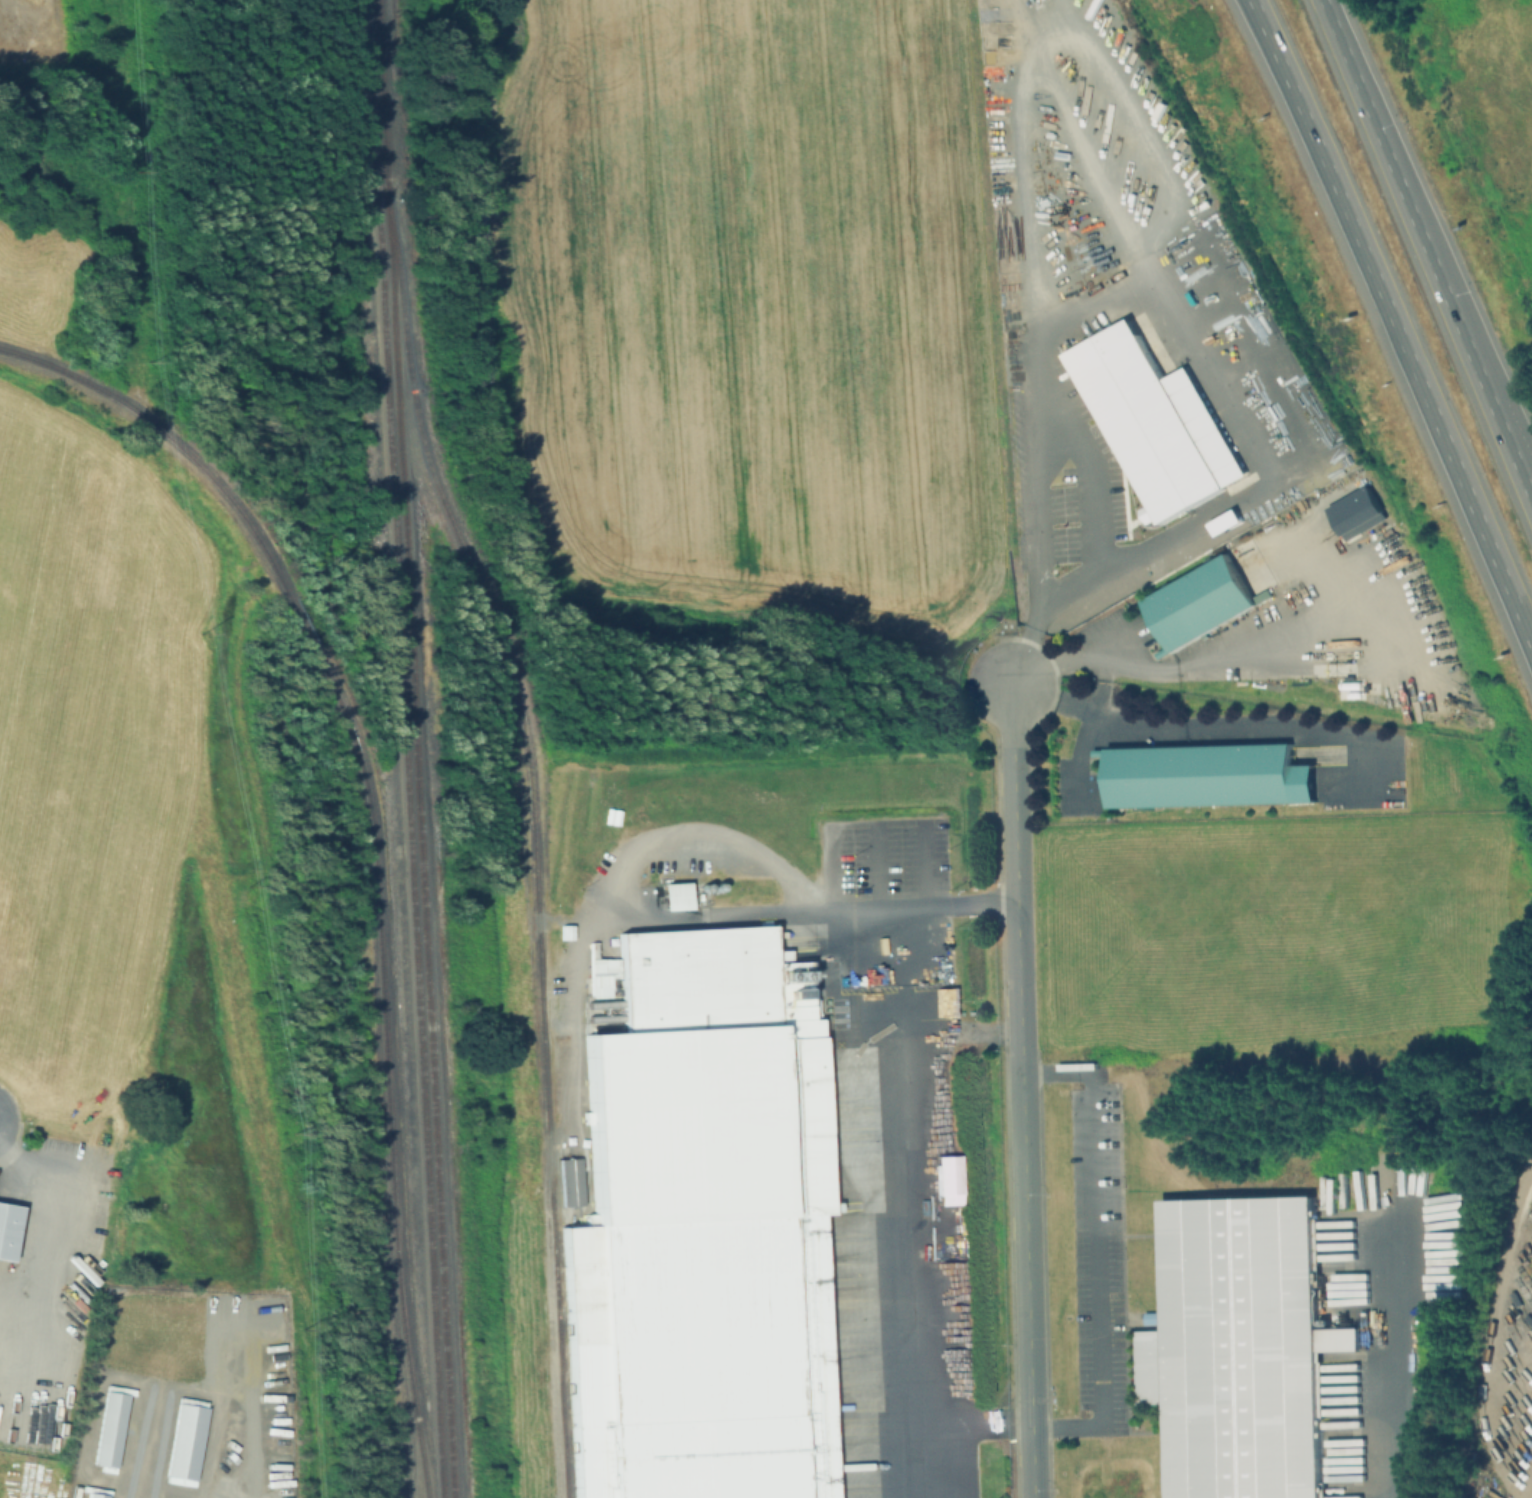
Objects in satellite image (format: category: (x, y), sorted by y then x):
road: (1269, 39)
railway: (382, 95)
road: (1018, 171)
road: (1106, 206)
road: (1200, 250)
road: (1428, 261)
building: (1246, 275)
crop: (745, 309)
road: (1408, 373)
road: (1063, 406)
building: (1157, 426)
railway: (174, 436)
road: (1510, 456)
road: (1260, 463)
building: (1288, 482)
building: (1171, 546)
road: (1361, 595)
building: (1198, 604)
railway: (304, 620)
road: (1197, 666)
road: (1195, 728)
road: (1085, 734)
railway: (403, 748)
road: (1013, 754)
crop: (89, 760)
building: (1205, 775)
railway: (532, 833)
railway: (419, 844)
road: (926, 862)
road: (880, 863)
road: (949, 901)
road: (599, 916)
crop: (1276, 930)
road: (1018, 936)
railway: (386, 1068)
building: (946, 1179)
road: (897, 1200)
road: (36, 1201)
building: (697, 1227)
building: (7, 1229)
road: (1099, 1249)
road: (1027, 1272)
road: (1495, 1333)
building: (1240, 1348)
road: (1389, 1357)
road: (177, 1389)
road: (970, 1422)
building: (108, 1428)
building: (184, 1441)
road: (242, 1443)
building: (94, 1495)

